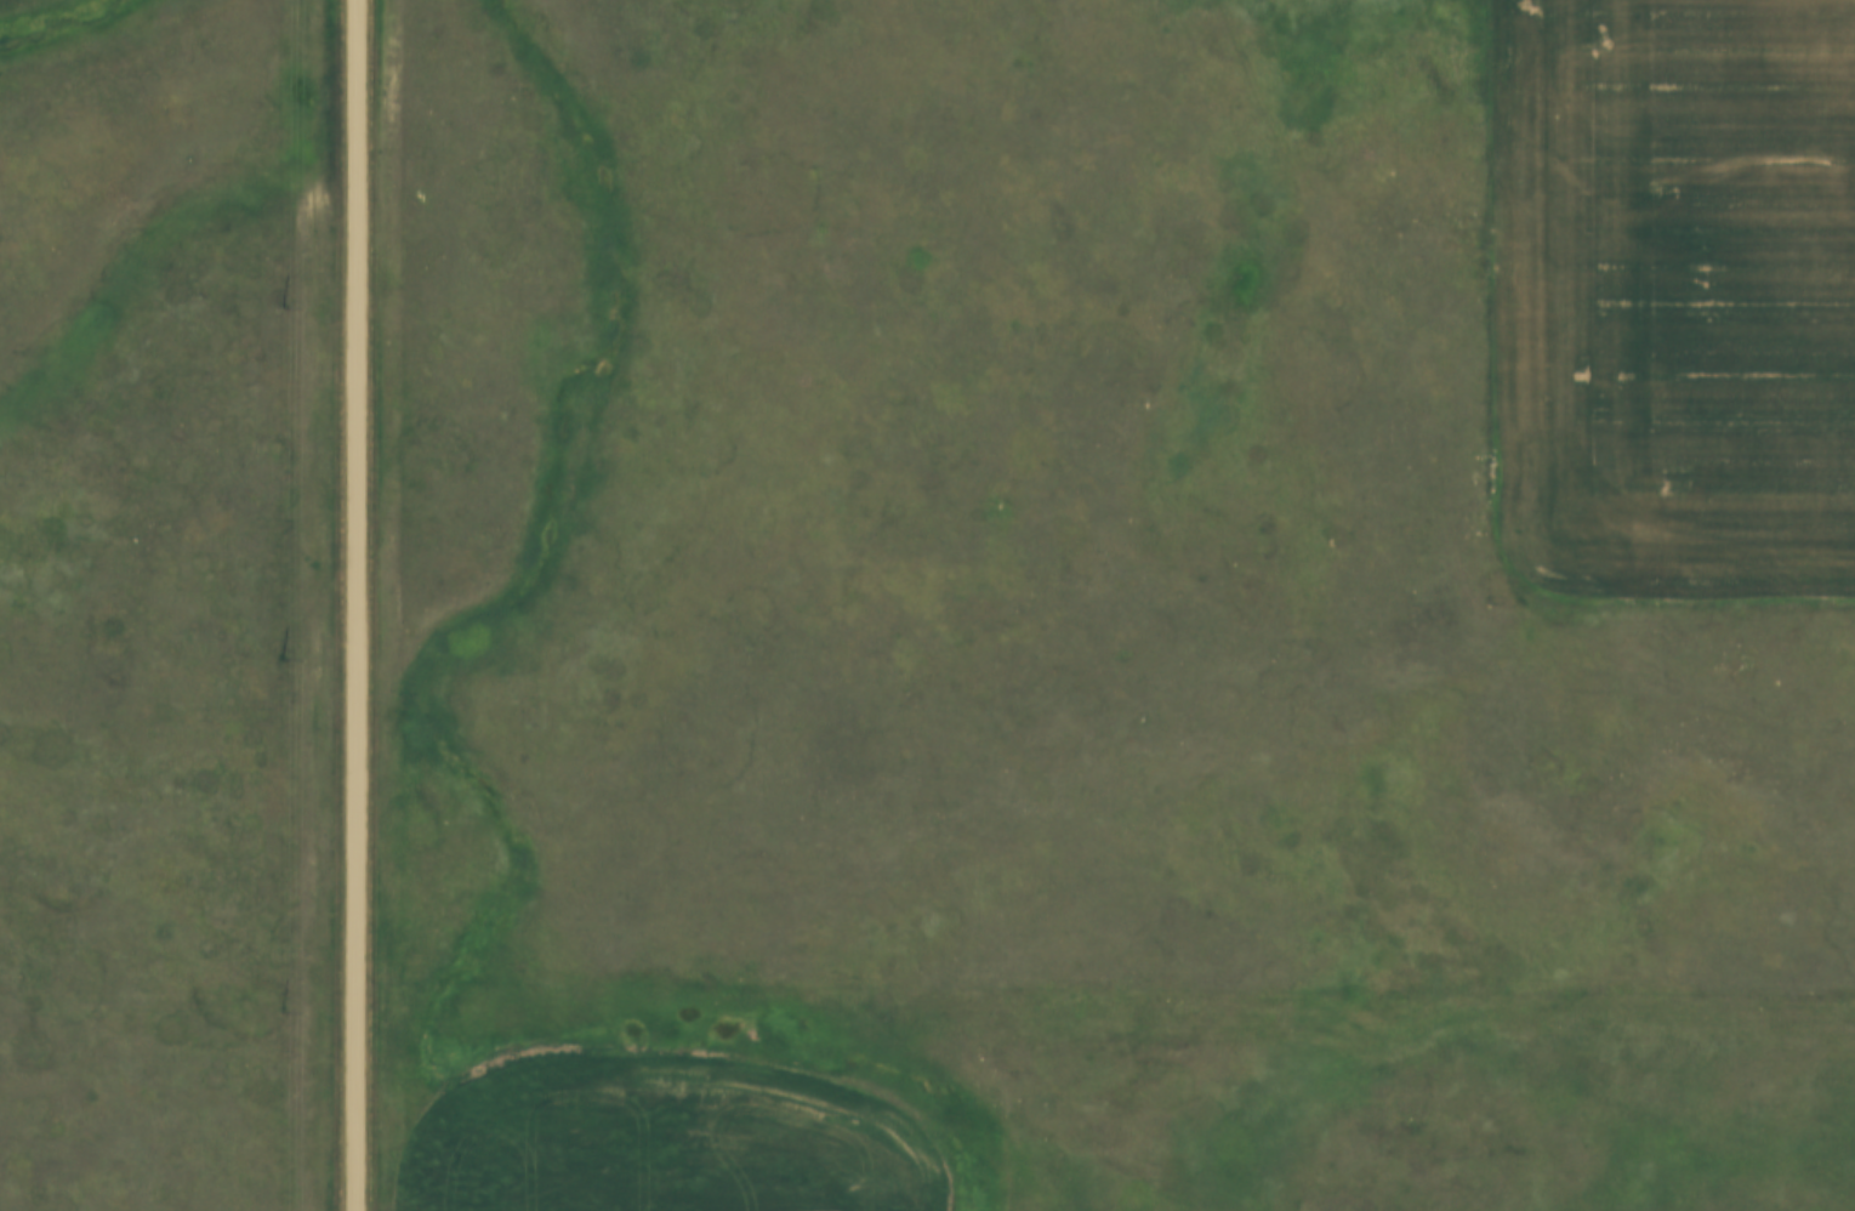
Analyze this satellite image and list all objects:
road: (358, 604)

